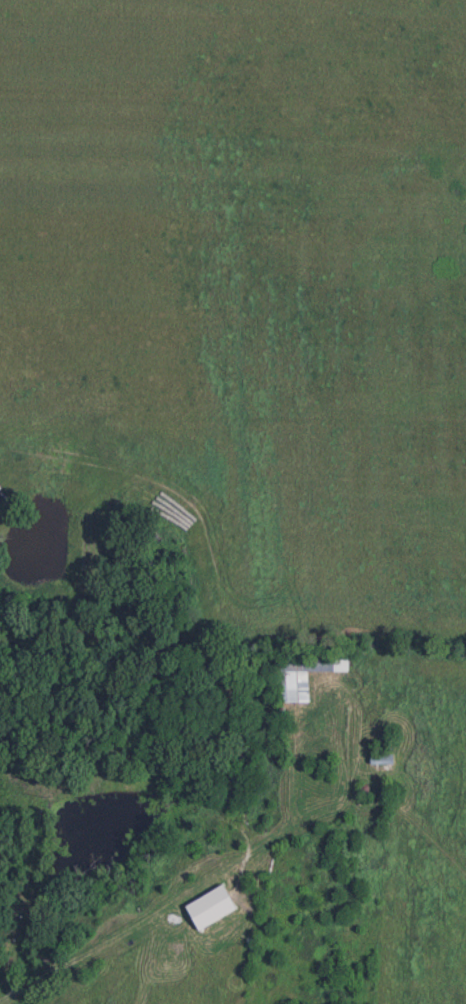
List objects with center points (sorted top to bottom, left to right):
building: (302, 675)
building: (382, 759)

